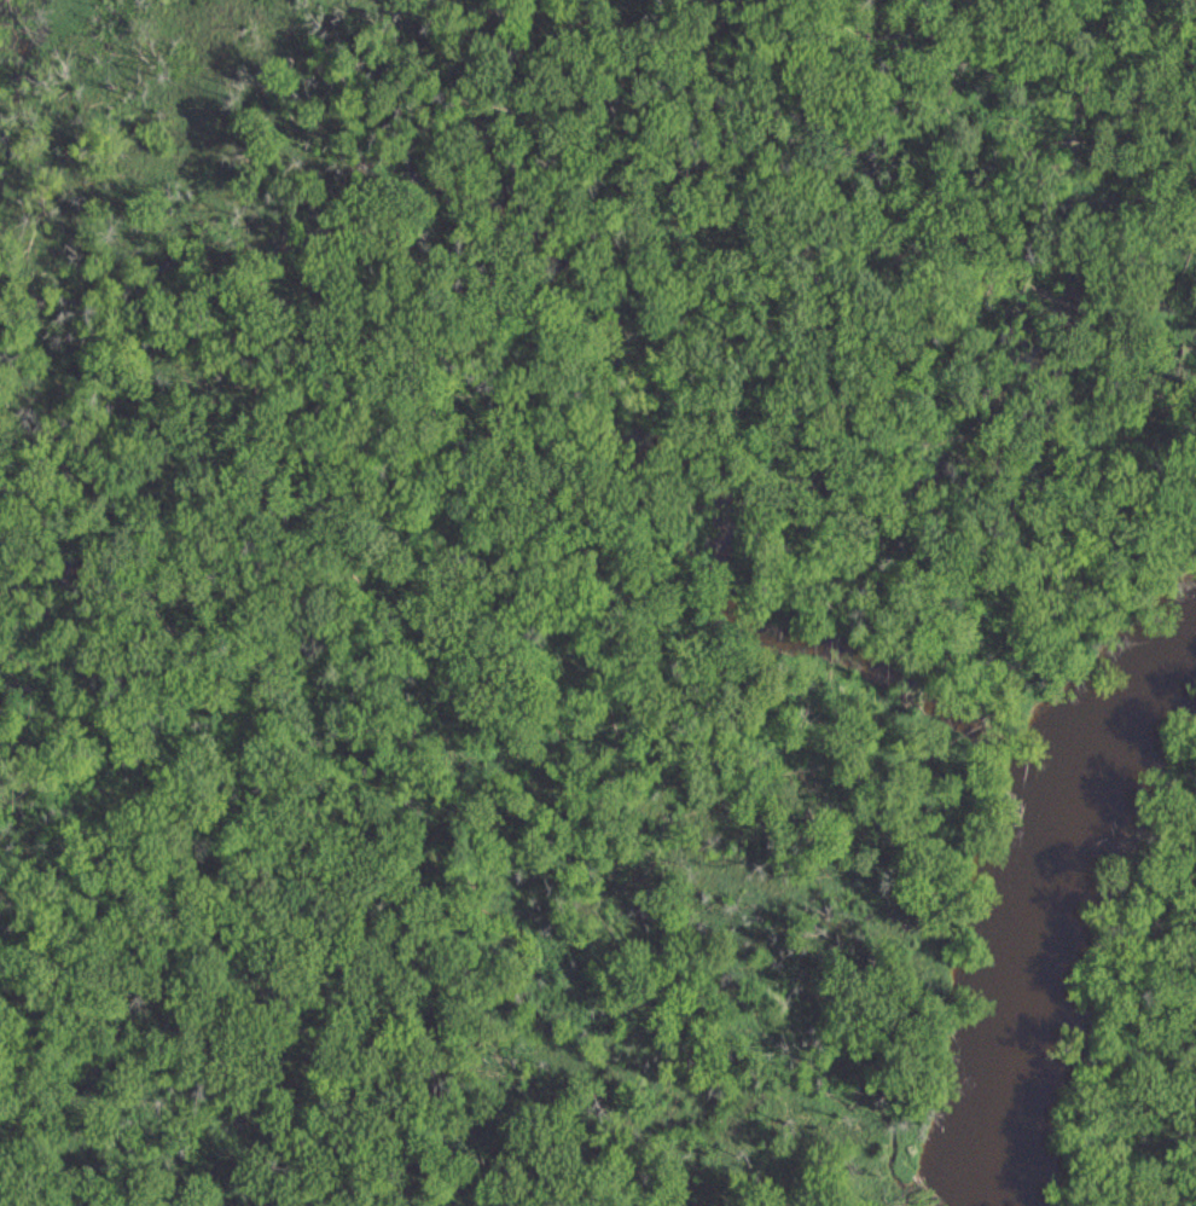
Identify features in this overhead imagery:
river: (1047, 909)

